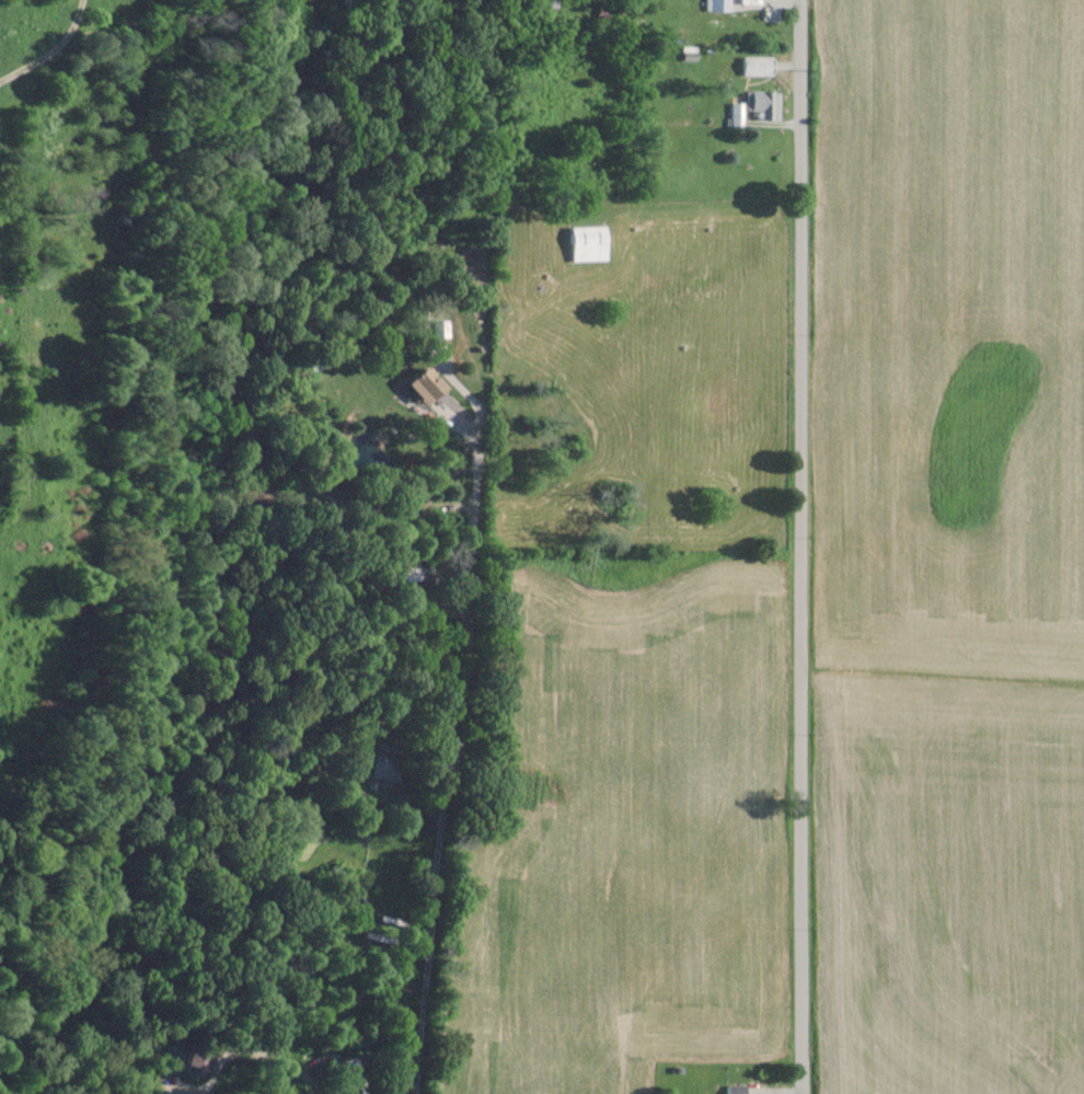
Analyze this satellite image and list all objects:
building: (716, 4)
road: (57, 54)
building: (758, 65)
building: (758, 100)
building: (737, 113)
road: (718, 154)
building: (589, 243)
building: (427, 384)
road: (803, 546)
building: (383, 769)
road: (454, 781)
building: (198, 1059)
building: (735, 1089)

